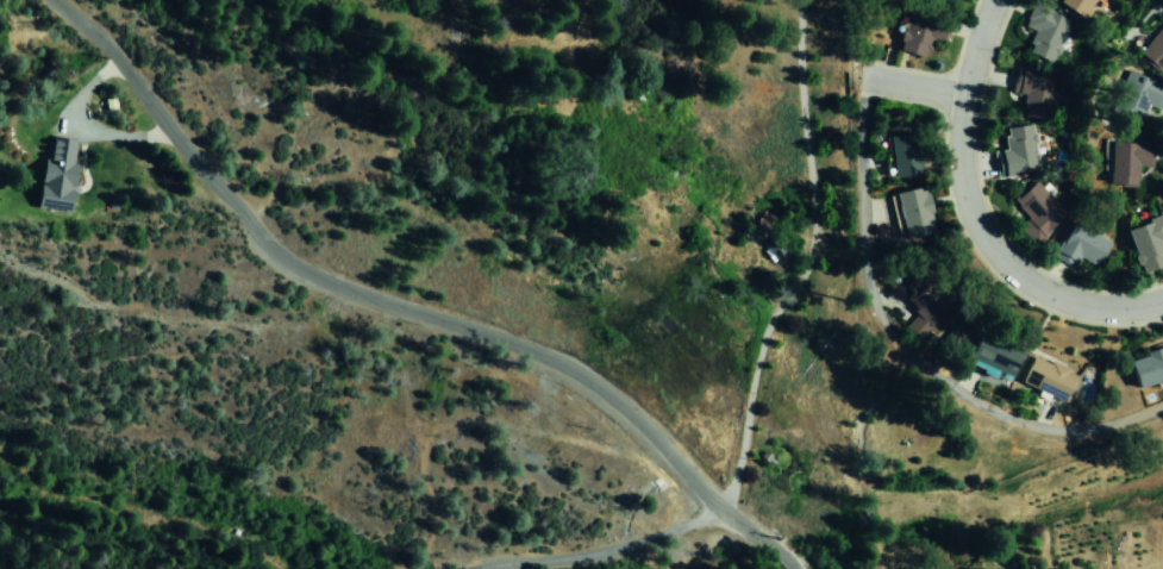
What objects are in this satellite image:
building: (1074, 6)
building: (920, 30)
building: (1042, 32)
building: (1152, 50)
road: (909, 85)
building: (1032, 92)
building: (1134, 95)
building: (1014, 152)
building: (901, 156)
building: (1125, 162)
building: (58, 174)
building: (1034, 211)
building: (911, 212)
road: (971, 218)
building: (1145, 243)
building: (1078, 245)
building: (924, 295)
road: (402, 309)
building: (992, 354)
building: (1145, 367)
building: (1044, 377)
road: (592, 551)

